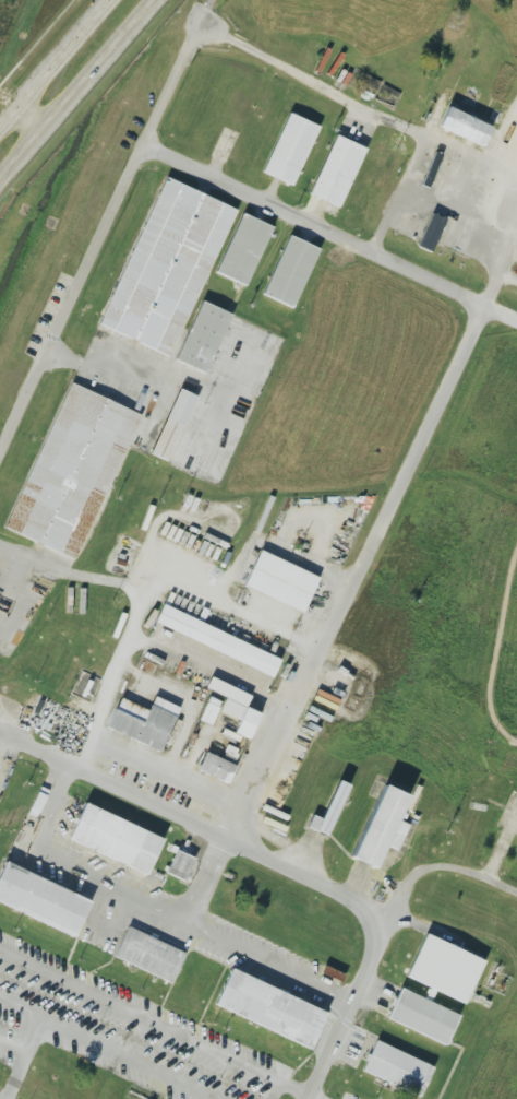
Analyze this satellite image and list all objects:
road: (204, 12)
road: (38, 44)
road: (55, 63)
road: (77, 87)
road: (369, 109)
road: (28, 119)
building: (465, 127)
building: (290, 145)
road: (471, 158)
building: (334, 168)
road: (458, 209)
building: (431, 232)
road: (328, 236)
road: (99, 237)
building: (243, 246)
building: (164, 260)
road: (498, 265)
building: (288, 268)
building: (203, 336)
road: (132, 368)
building: (173, 425)
building: (67, 466)
road: (361, 576)
road: (74, 577)
building: (279, 579)
road: (155, 587)
road: (19, 596)
building: (213, 639)
road: (494, 649)
building: (236, 707)
building: (144, 722)
building: (216, 767)
road: (52, 805)
building: (328, 811)
building: (376, 824)
building: (112, 834)
road: (276, 863)
building: (179, 865)
road: (435, 866)
road: (203, 878)
road: (110, 884)
building: (39, 896)
building: (149, 955)
road: (268, 962)
building: (444, 966)
building: (265, 1005)
road: (21, 1007)
road: (137, 1015)
building: (420, 1015)
road: (37, 1027)
parking lot: (122, 1031)
road: (12, 1050)
road: (125, 1059)
building: (396, 1065)
road: (17, 1066)
road: (299, 1089)
road: (274, 1090)
parking lot: (348, 1095)

